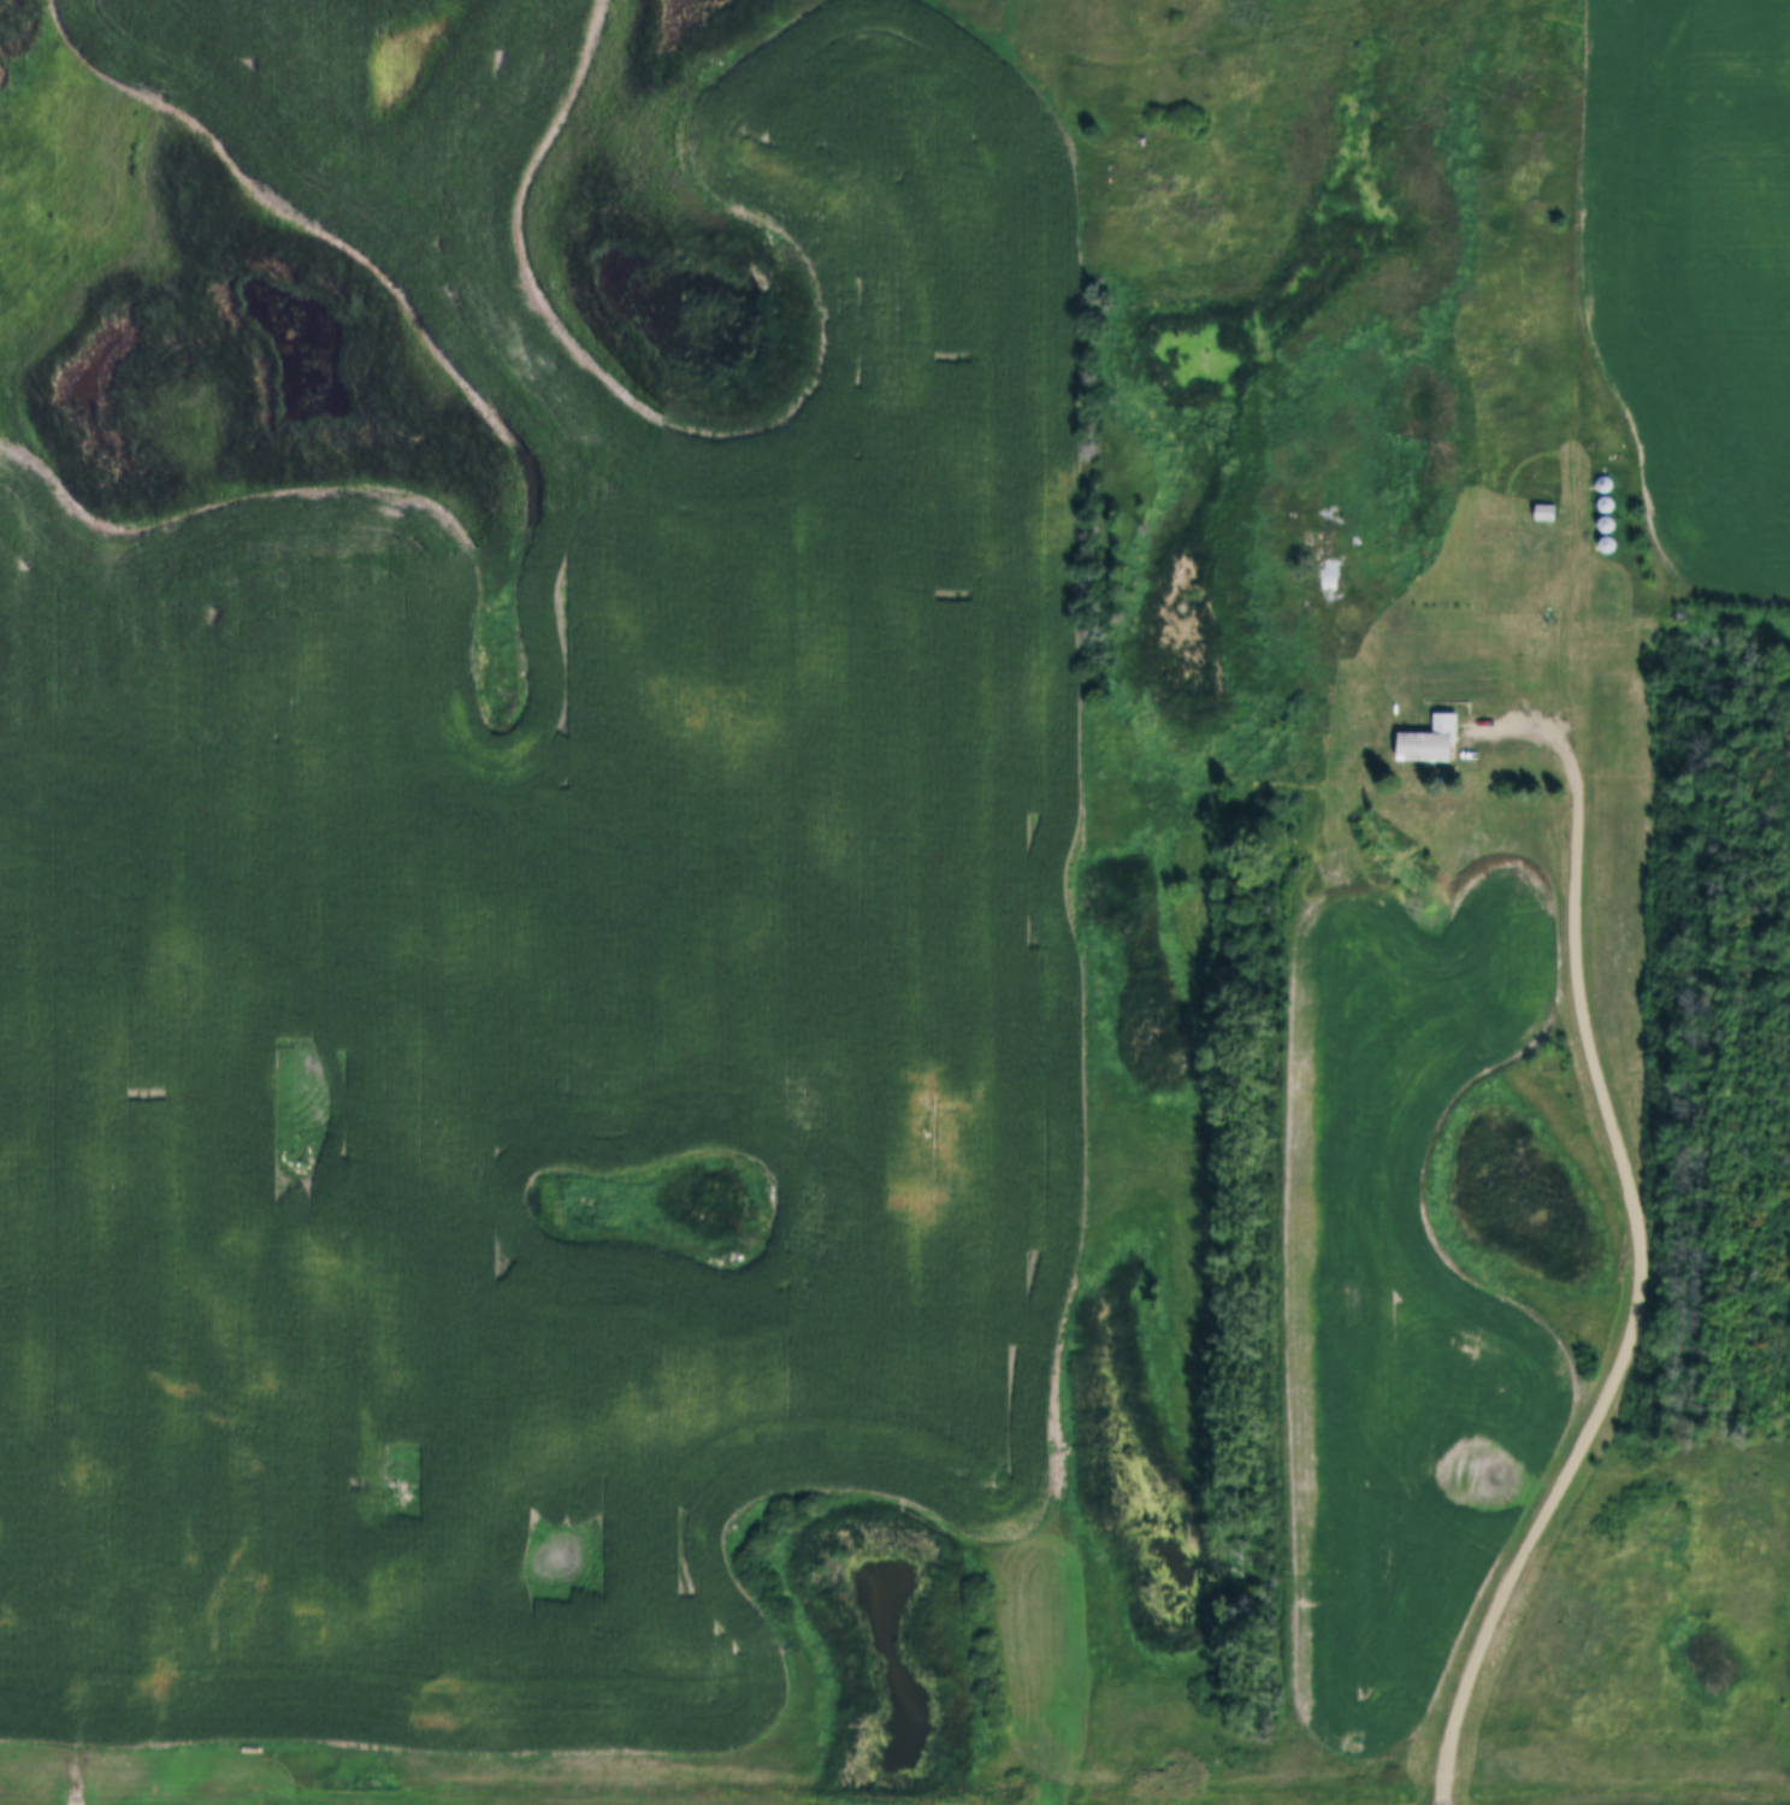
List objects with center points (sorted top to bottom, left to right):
road: (1584, 388)
building: (1605, 473)
silo: (1605, 473)
building: (1606, 494)
silo: (1606, 494)
building: (1544, 501)
building: (1609, 513)
silo: (1609, 513)
building: (1540, 514)
building: (1611, 533)
silo: (1611, 533)
building: (1324, 582)
building: (1431, 727)
road: (1638, 1249)

